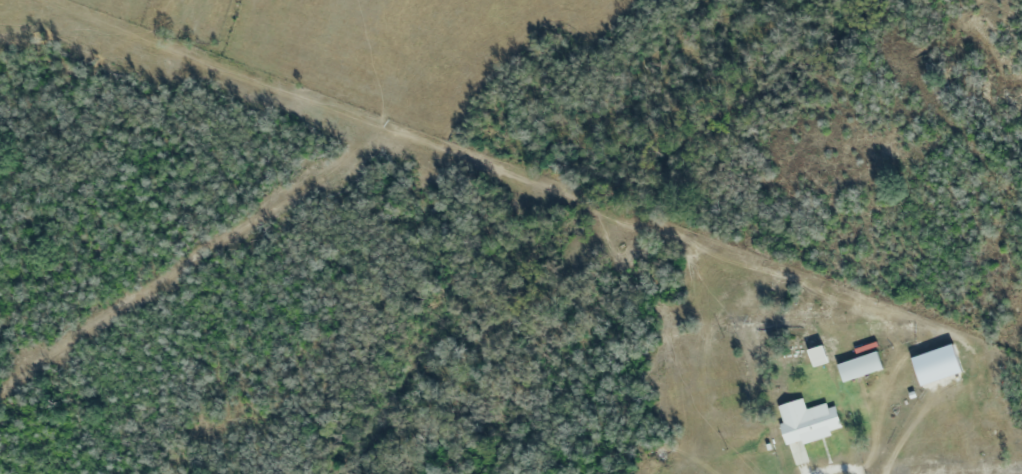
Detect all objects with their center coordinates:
building: (859, 366)
building: (817, 422)
road: (802, 471)

